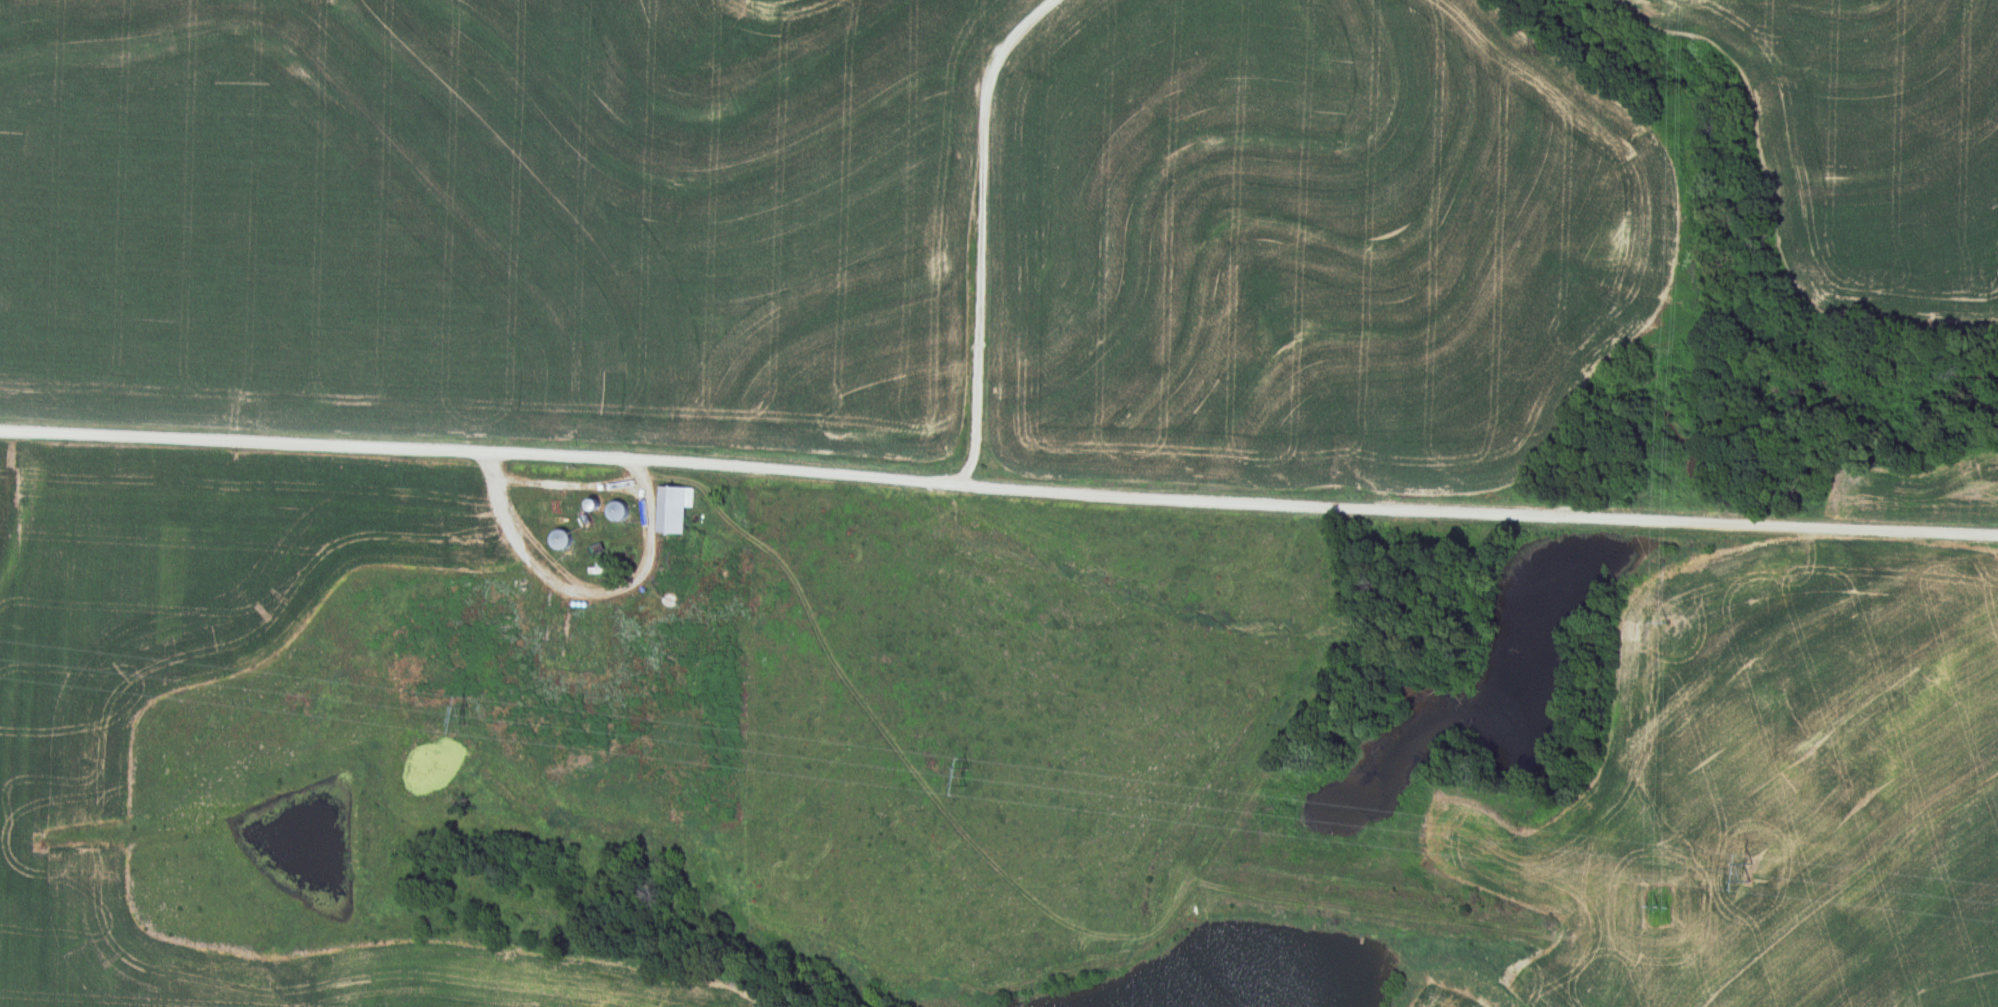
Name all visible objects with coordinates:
road: (987, 228)
road: (999, 482)
road: (561, 483)
building: (673, 509)
building: (616, 511)
building: (555, 540)
power tower: (463, 716)
power tower: (972, 778)
power tower: (1752, 872)

